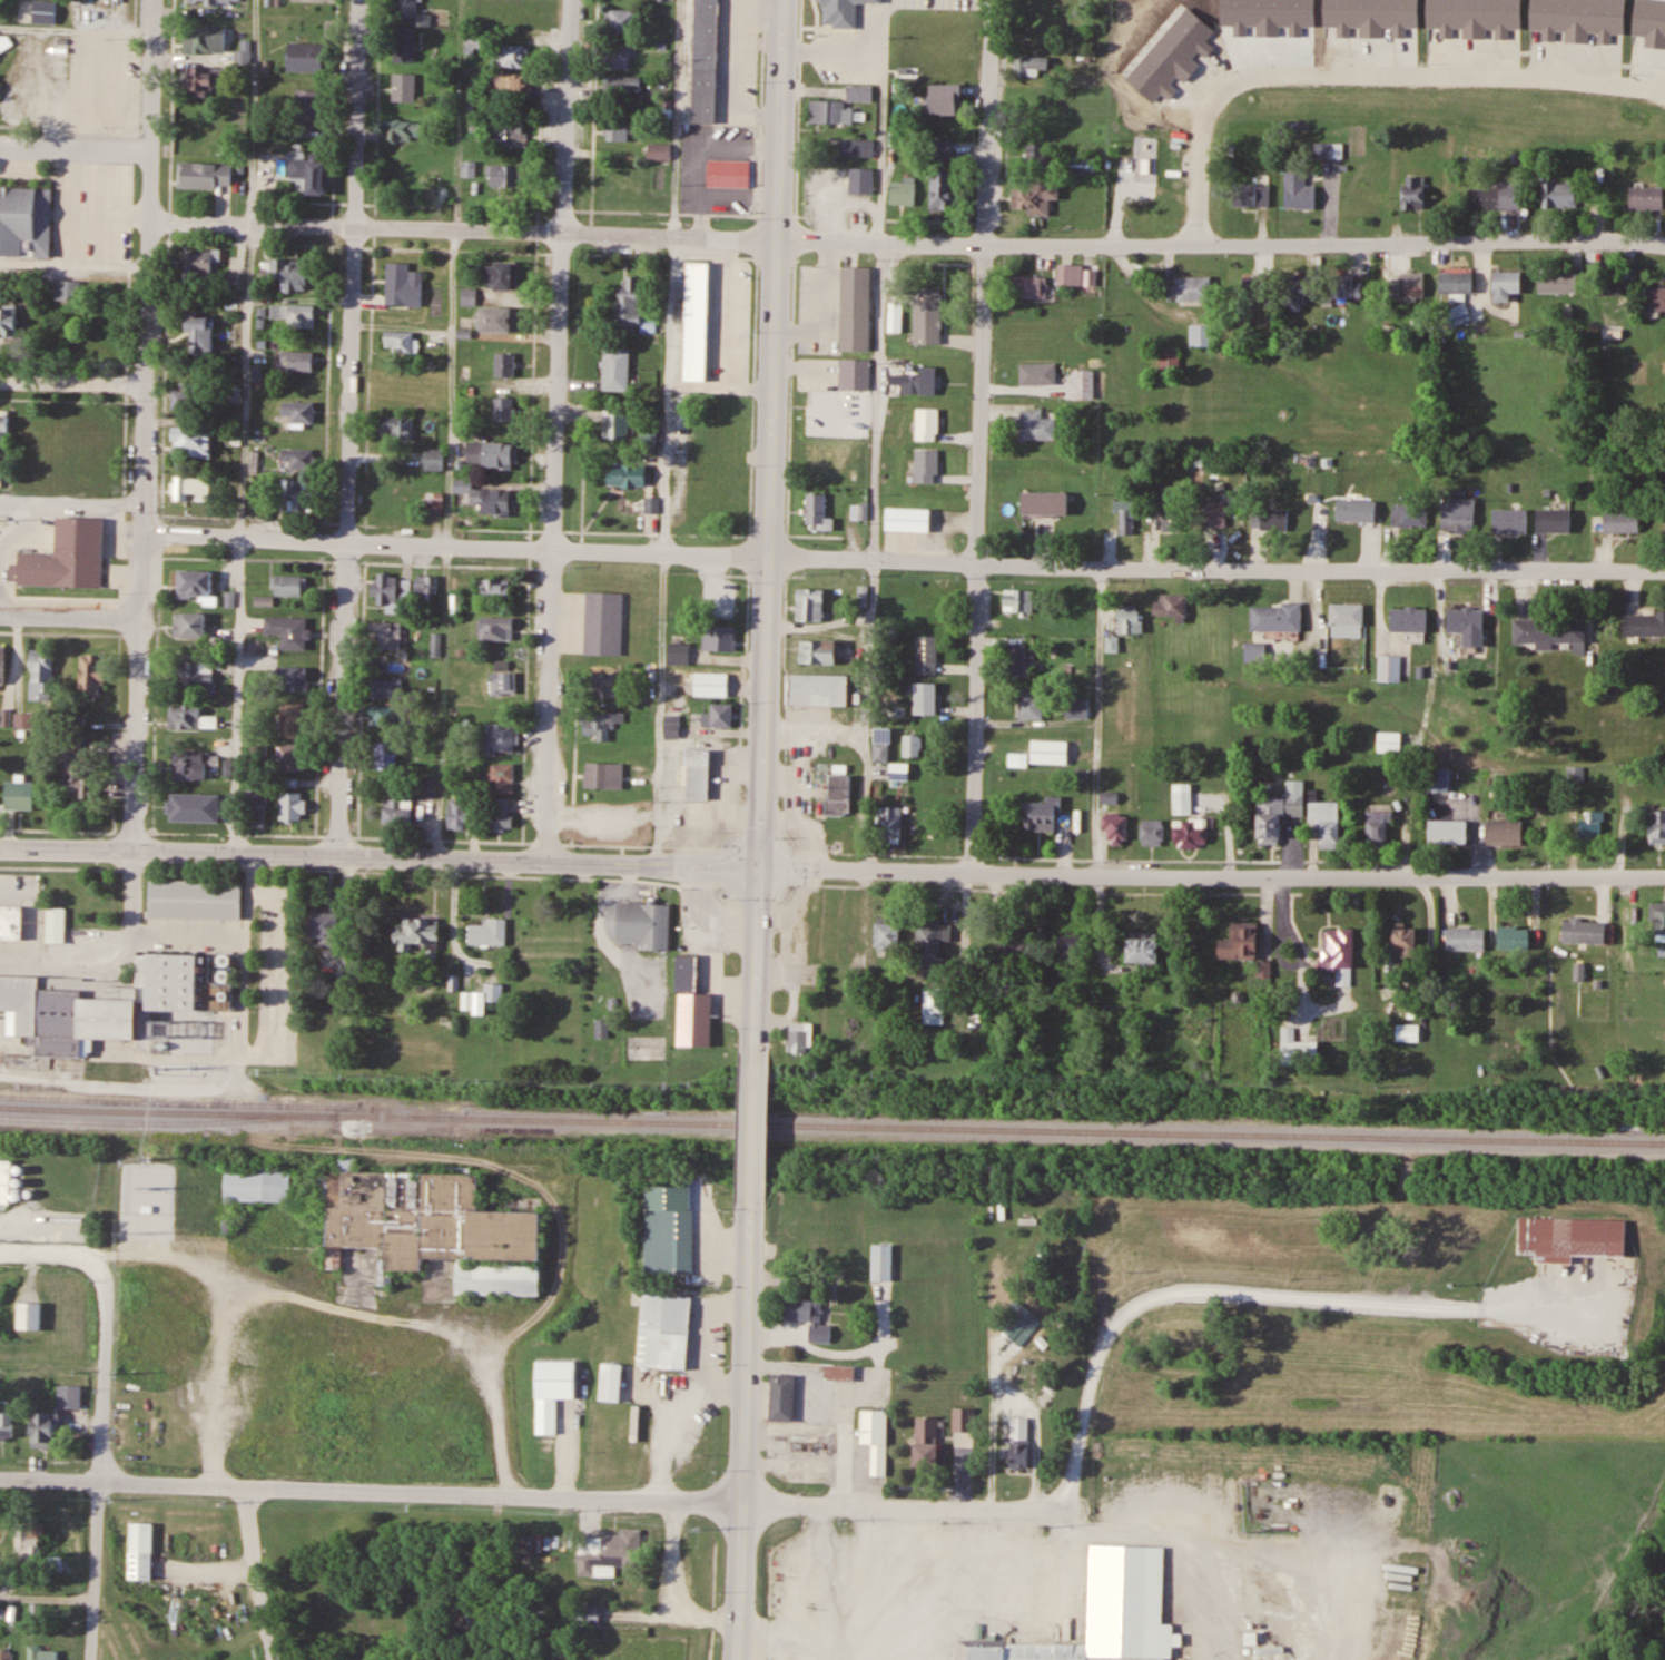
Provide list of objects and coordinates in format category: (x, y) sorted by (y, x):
building: (209, 2)
building: (37, 11)
building: (412, 12)
building: (829, 12)
building: (623, 21)
building: (204, 40)
building: (4, 42)
building: (405, 45)
building: (513, 56)
building: (828, 56)
building: (947, 56)
building: (306, 57)
building: (620, 57)
building: (706, 61)
building: (1031, 65)
road: (1359, 65)
building: (205, 81)
building: (865, 84)
building: (512, 85)
building: (623, 85)
building: (403, 87)
building: (1026, 87)
building: (945, 99)
building: (305, 107)
building: (831, 112)
building: (618, 129)
building: (402, 130)
building: (510, 132)
building: (856, 147)
road: (73, 149)
building: (659, 151)
building: (945, 151)
building: (1040, 155)
building: (1084, 166)
building: (1331, 168)
building: (725, 174)
building: (307, 175)
building: (204, 176)
building: (504, 176)
building: (861, 180)
building: (943, 190)
building: (1299, 191)
building: (903, 193)
building: (1413, 193)
building: (1252, 195)
building: (1559, 195)
building: (1495, 197)
building: (1035, 198)
building: (1647, 198)
building: (24, 222)
road: (904, 243)
building: (198, 261)
building: (289, 275)
building: (502, 275)
building: (1070, 275)
building: (235, 282)
building: (1558, 282)
building: (1457, 283)
building: (403, 284)
building: (1344, 285)
building: (1410, 285)
building: (1506, 285)
building: (1031, 287)
building: (1609, 287)
building: (0, 288)
building: (1194, 288)
building: (67, 289)
building: (1297, 289)
building: (1254, 293)
building: (932, 296)
building: (1655, 298)
building: (631, 304)
building: (856, 308)
building: (1460, 314)
building: (296, 316)
building: (497, 320)
building: (697, 321)
building: (7, 322)
building: (199, 334)
building: (1200, 335)
building: (398, 342)
building: (296, 361)
building: (1164, 363)
building: (505, 364)
building: (615, 369)
building: (1037, 373)
road: (70, 384)
building: (905, 384)
building: (1083, 385)
building: (189, 397)
building: (503, 409)
building: (299, 413)
building: (816, 421)
road: (138, 424)
building: (615, 424)
building: (3, 425)
building: (90, 425)
building: (927, 425)
building: (1038, 425)
road: (352, 426)
building: (397, 428)
road: (553, 429)
road: (981, 435)
building: (715, 438)
building: (191, 441)
building: (491, 455)
building: (297, 459)
building: (434, 460)
building: (927, 465)
building: (717, 468)
building: (97, 473)
building: (629, 475)
building: (183, 488)
building: (296, 491)
building: (486, 499)
building: (434, 502)
building: (1045, 504)
building: (719, 505)
building: (1172, 509)
building: (1357, 510)
building: (1214, 511)
building: (817, 513)
building: (1459, 513)
building: (1410, 514)
building: (1126, 515)
building: (908, 519)
building: (1270, 519)
building: (1554, 520)
road: (765, 521)
building: (1510, 521)
building: (1622, 521)
building: (67, 556)
road: (895, 560)
building: (194, 583)
building: (426, 585)
building: (289, 586)
building: (495, 590)
building: (391, 592)
building: (1018, 601)
building: (809, 603)
building: (1171, 606)
road: (66, 616)
building: (1279, 617)
building: (1347, 619)
building: (1130, 620)
building: (1410, 620)
building: (1467, 620)
building: (604, 621)
building: (189, 623)
building: (1645, 625)
building: (496, 627)
building: (288, 629)
building: (1549, 631)
building: (385, 633)
building: (719, 636)
building: (818, 650)
building: (1255, 651)
building: (679, 652)
building: (926, 654)
building: (1017, 659)
building: (1, 664)
building: (1389, 668)
building: (91, 672)
building: (40, 675)
building: (195, 675)
building: (295, 676)
building: (503, 678)
building: (711, 684)
building: (602, 685)
building: (818, 687)
building: (384, 688)
building: (925, 697)
building: (1029, 704)
building: (1077, 708)
building: (385, 715)
building: (719, 715)
building: (190, 716)
building: (290, 718)
building: (601, 724)
building: (672, 726)
building: (500, 737)
building: (1389, 740)
building: (912, 745)
building: (880, 750)
building: (1048, 752)
building: (384, 755)
building: (289, 756)
building: (188, 764)
building: (899, 770)
building: (697, 773)
building: (75, 775)
building: (604, 775)
building: (502, 777)
building: (1438, 778)
building: (428, 787)
building: (839, 793)
building: (18, 795)
building: (1182, 798)
building: (292, 806)
building: (397, 812)
building: (1280, 812)
building: (500, 813)
building: (257, 814)
building: (460, 814)
building: (1042, 815)
building: (889, 822)
building: (1328, 822)
building: (1592, 825)
building: (926, 826)
building: (1658, 826)
building: (1116, 828)
building: (1379, 828)
building: (1447, 831)
building: (1153, 832)
building: (1506, 832)
building: (1190, 833)
traffic signals: (757, 866)
road: (831, 867)
building: (195, 898)
building: (9, 921)
building: (1657, 921)
building: (640, 923)
building: (53, 924)
building: (326, 926)
building: (420, 930)
building: (1585, 930)
building: (489, 932)
building: (1515, 936)
building: (1466, 937)
building: (932, 939)
building: (1406, 940)
building: (1241, 941)
building: (1007, 943)
building: (1144, 949)
building: (1071, 951)
building: (1340, 953)
building: (710, 962)
building: (687, 972)
building: (482, 996)
building: (99, 999)
building: (934, 1004)
building: (602, 1028)
building: (1408, 1032)
building: (799, 1037)
building: (1298, 1049)
railway: (234, 1101)
railway: (168, 1121)
road: (752, 1123)
railway: (831, 1124)
building: (4, 1179)
building: (227, 1186)
building: (430, 1219)
building: (670, 1228)
building: (1576, 1234)
road: (10, 1248)
building: (881, 1261)
building: (497, 1278)
road: (1201, 1284)
building: (28, 1314)
building: (809, 1317)
building: (664, 1329)
building: (610, 1382)
building: (552, 1388)
building: (67, 1396)
building: (781, 1396)
road: (102, 1414)
building: (963, 1418)
building: (6, 1424)
building: (41, 1430)
road: (745, 1432)
building: (875, 1436)
building: (926, 1441)
building: (1022, 1453)
road: (532, 1496)
building: (29, 1541)
building: (138, 1551)
building: (608, 1553)
building: (52, 1564)
road: (255, 1573)
building: (1106, 1610)
building: (585, 1615)
building: (42, 1653)
building: (6, 1654)

